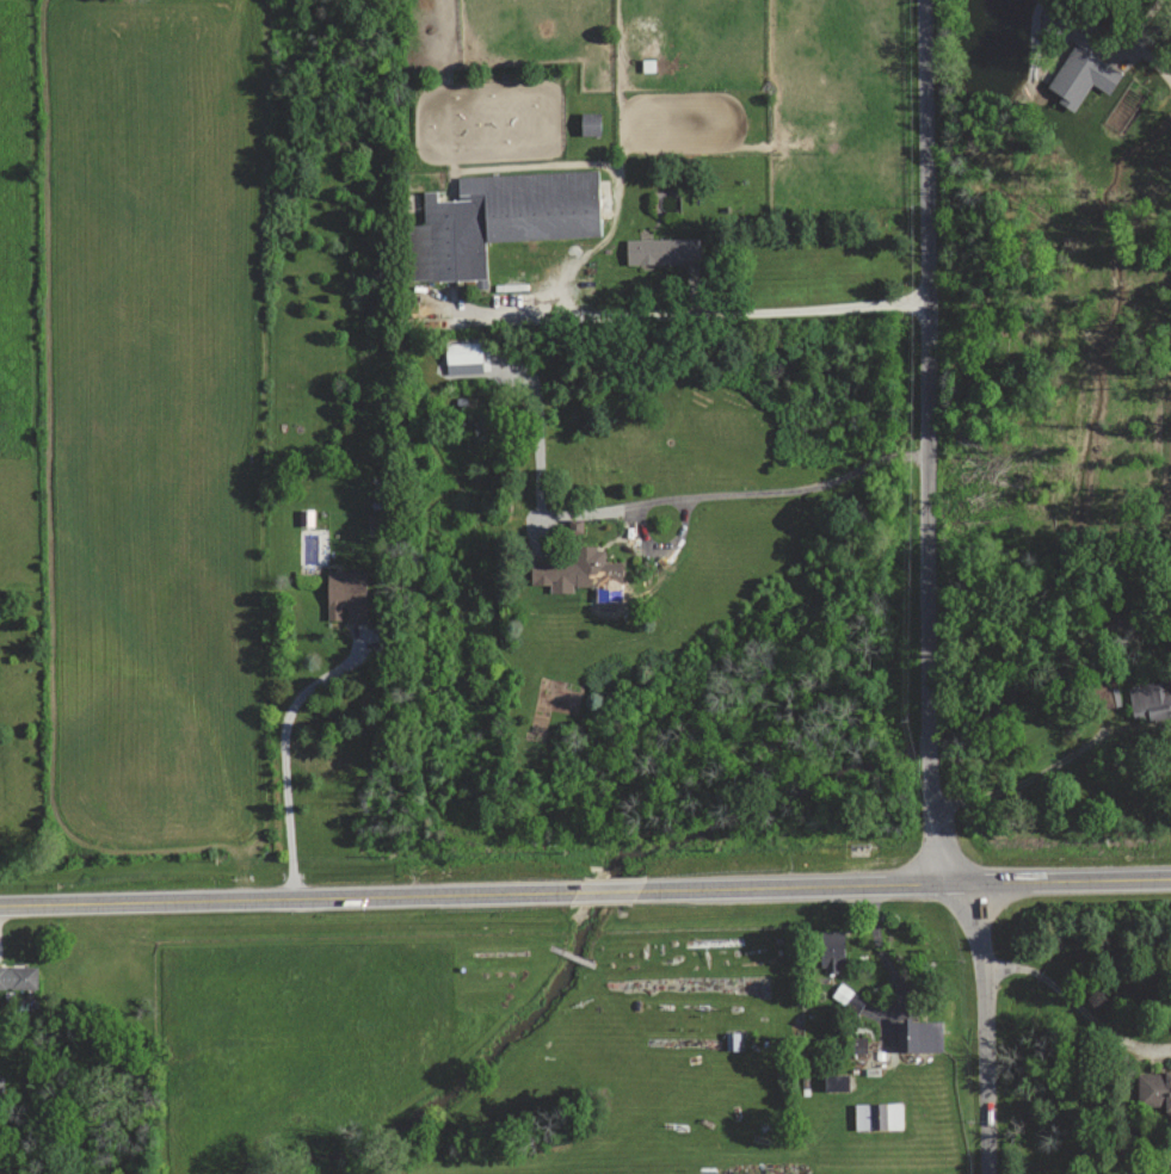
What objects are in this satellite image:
road: (1151, 14)
building: (1081, 70)
building: (590, 123)
building: (499, 218)
building: (662, 249)
road: (695, 317)
building: (462, 352)
road: (924, 443)
road: (783, 492)
building: (306, 518)
building: (579, 571)
building: (346, 595)
building: (1151, 700)
road: (284, 756)
road: (1028, 783)
road: (585, 890)
building: (832, 950)
building: (19, 977)
road: (1076, 1003)
road: (978, 1026)
building: (919, 1036)
building: (733, 1042)
building: (836, 1083)
building: (1154, 1089)
building: (879, 1117)

